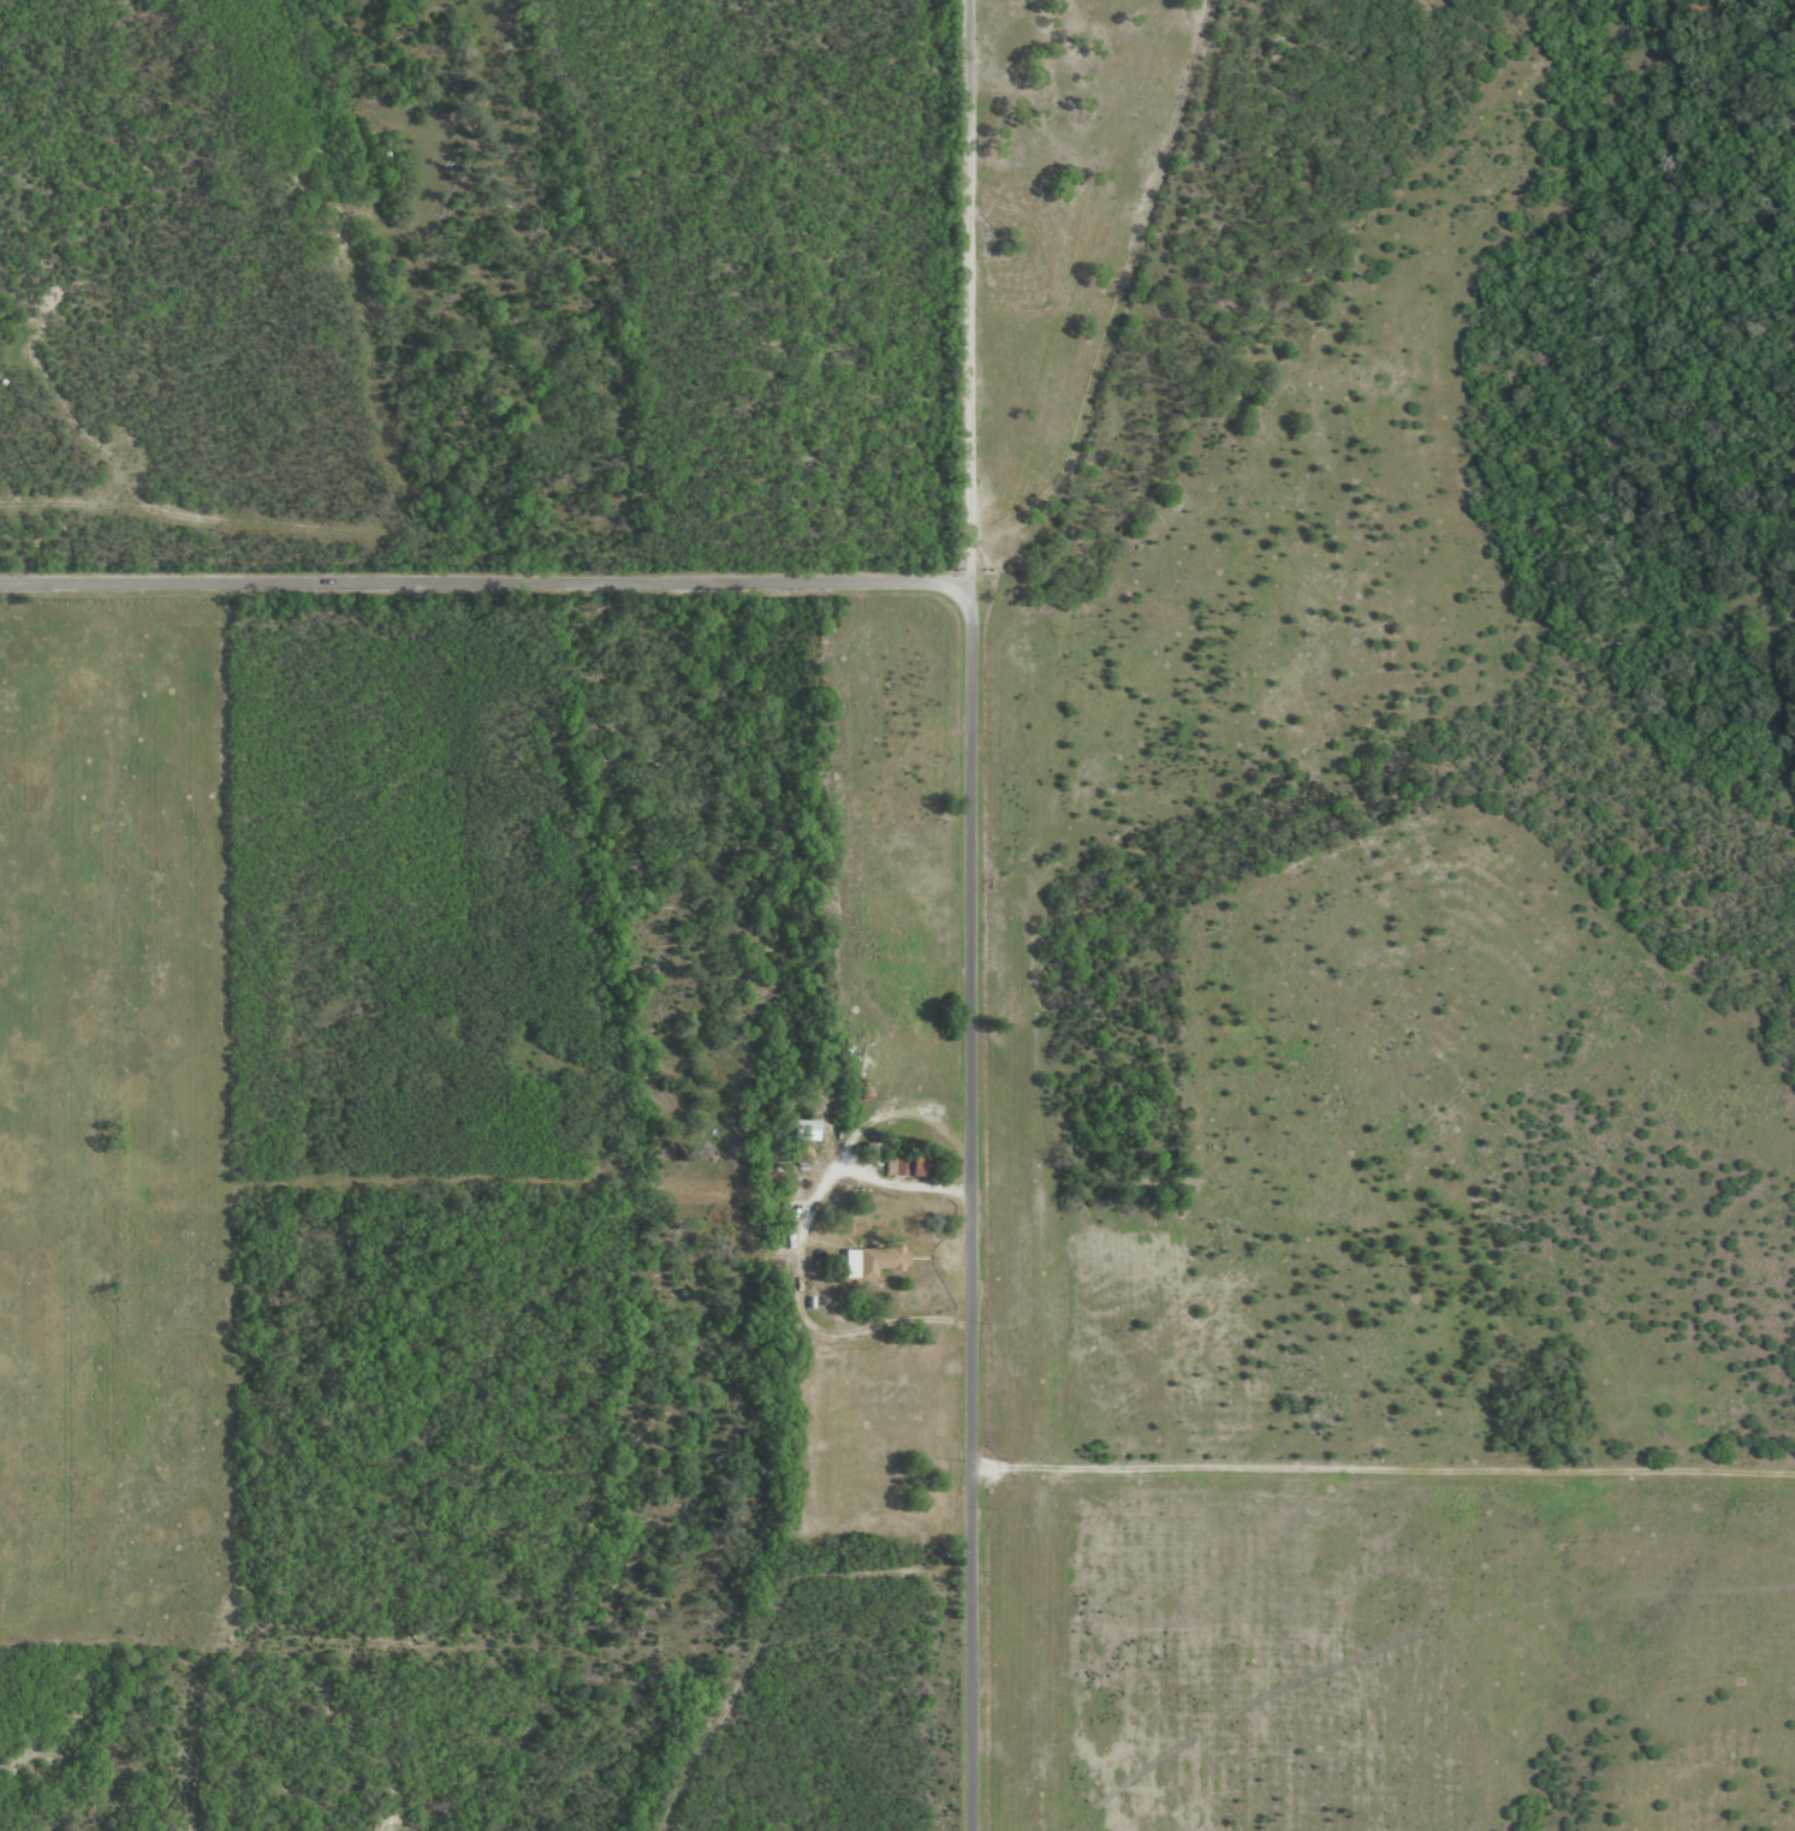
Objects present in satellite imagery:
road: (976, 726)
building: (804, 1129)
building: (908, 1165)
building: (878, 1260)

